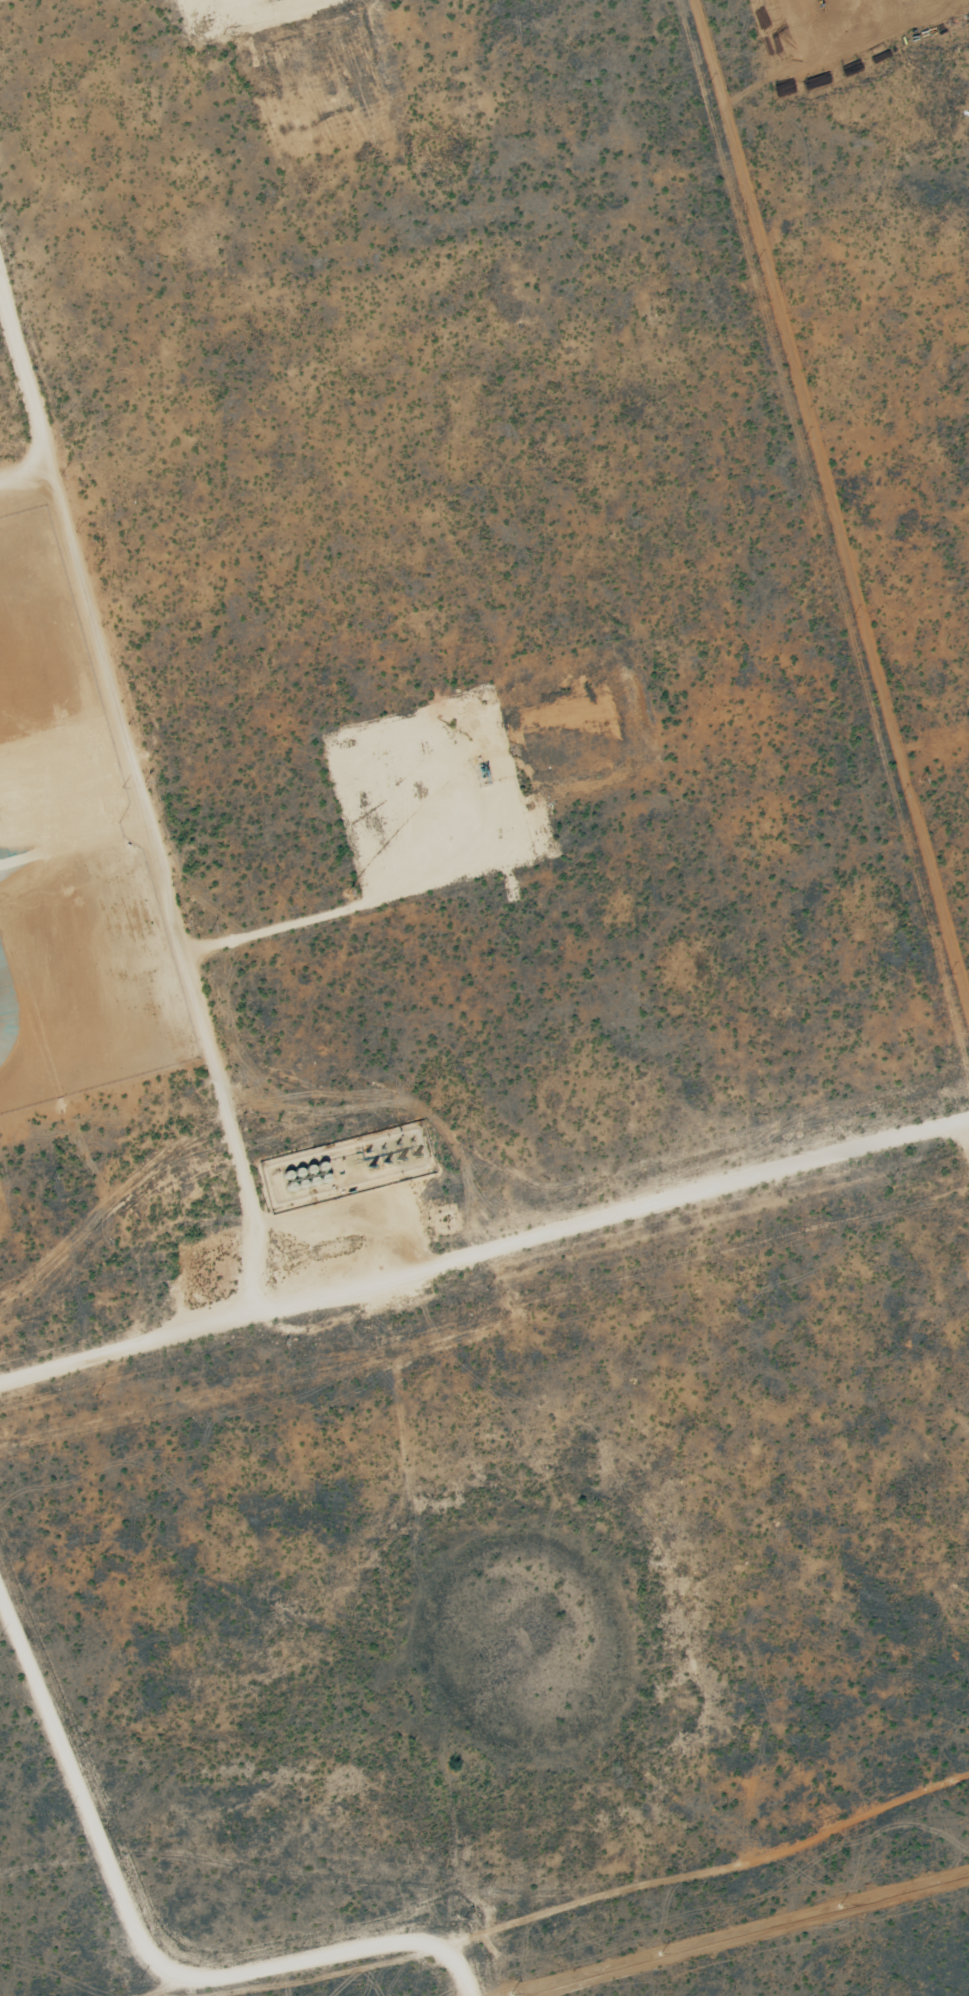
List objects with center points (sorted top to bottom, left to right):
road: (791, 1947)

